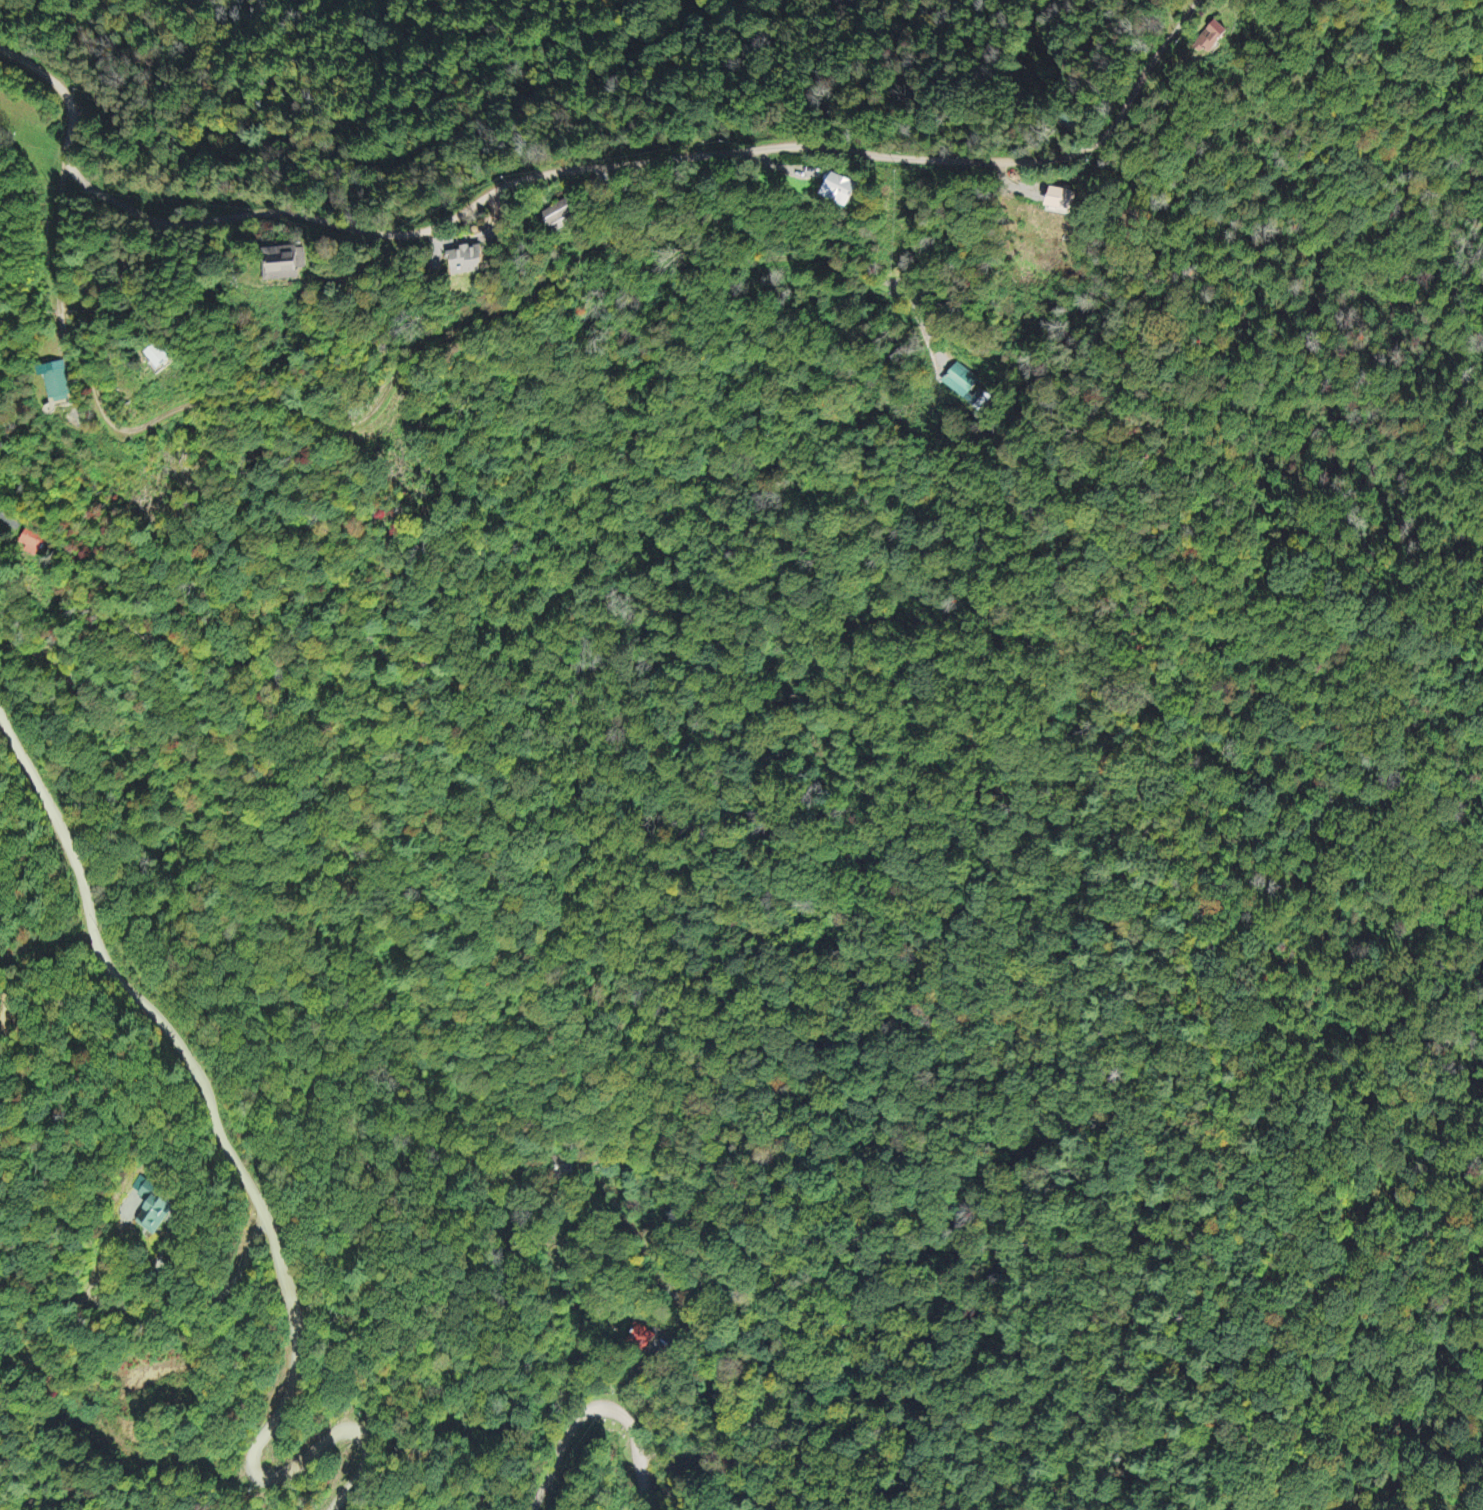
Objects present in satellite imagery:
building: (1223, 37)
building: (1086, 121)
road: (651, 162)
building: (843, 189)
building: (1076, 199)
building: (566, 211)
building: (479, 261)
building: (297, 264)
road: (921, 313)
building: (166, 358)
building: (963, 380)
building: (58, 383)
building: (982, 399)
road: (380, 411)
building: (35, 540)
building: (89, 692)
building: (560, 1167)
road: (249, 1184)
building: (155, 1203)
road: (677, 1301)
building: (643, 1338)
road: (597, 1405)
road: (717, 1459)

